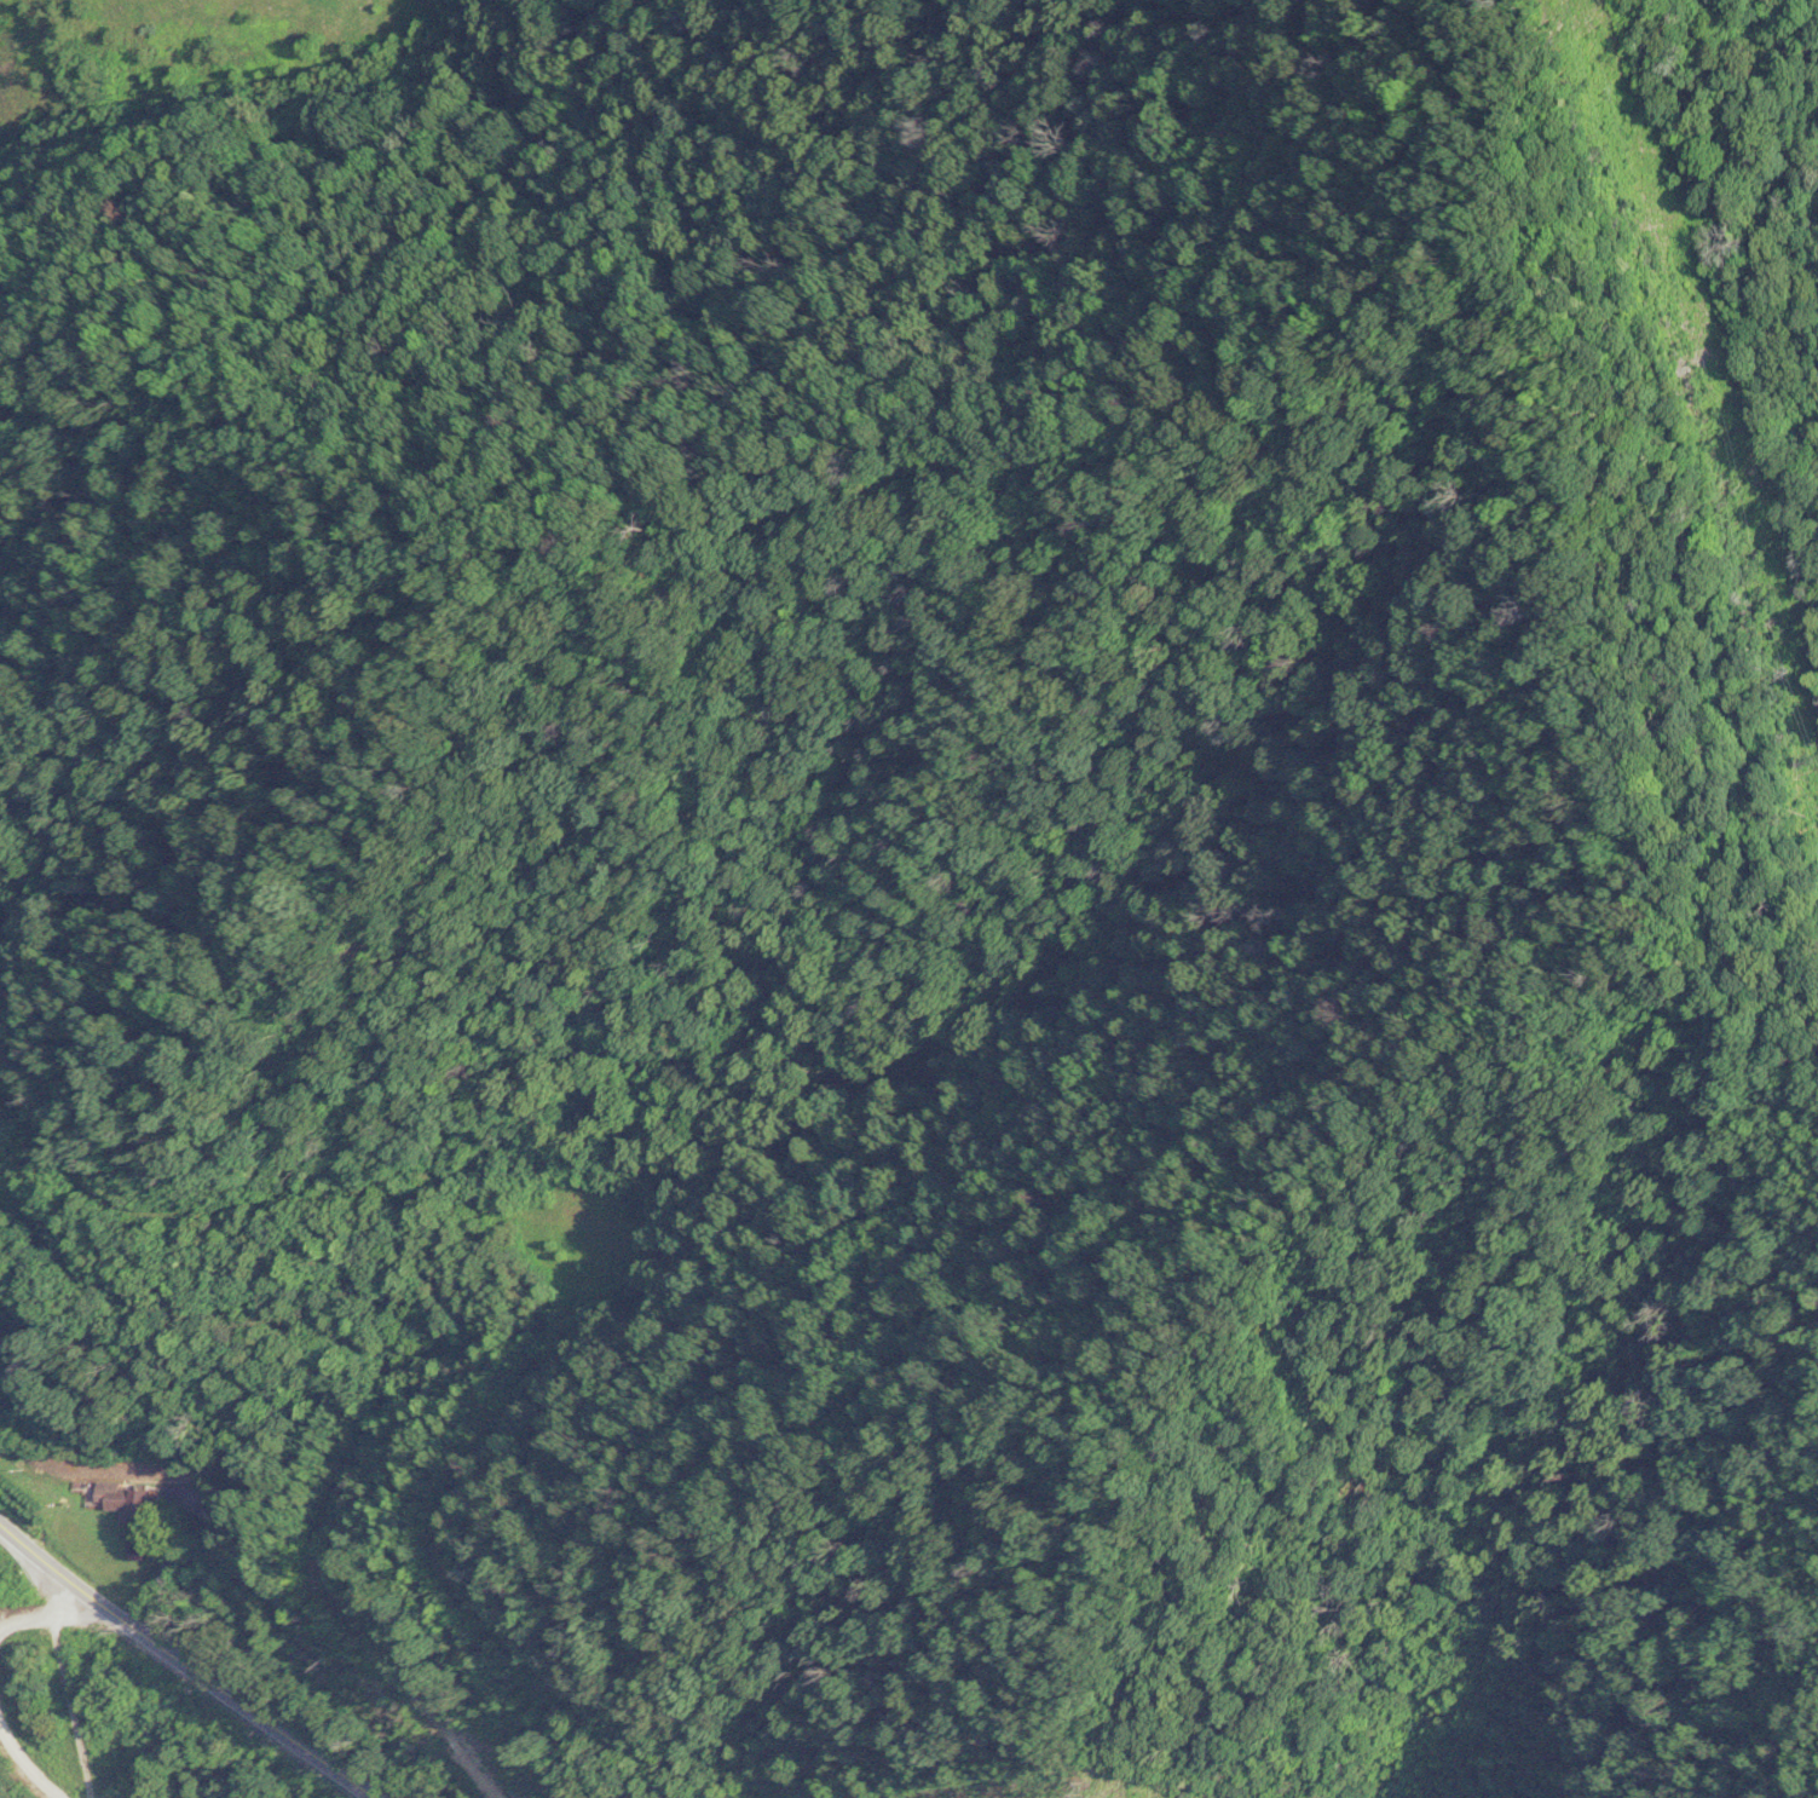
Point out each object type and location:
building: (0, 1447)
building: (126, 1500)
road: (179, 1661)
road: (73, 1692)

